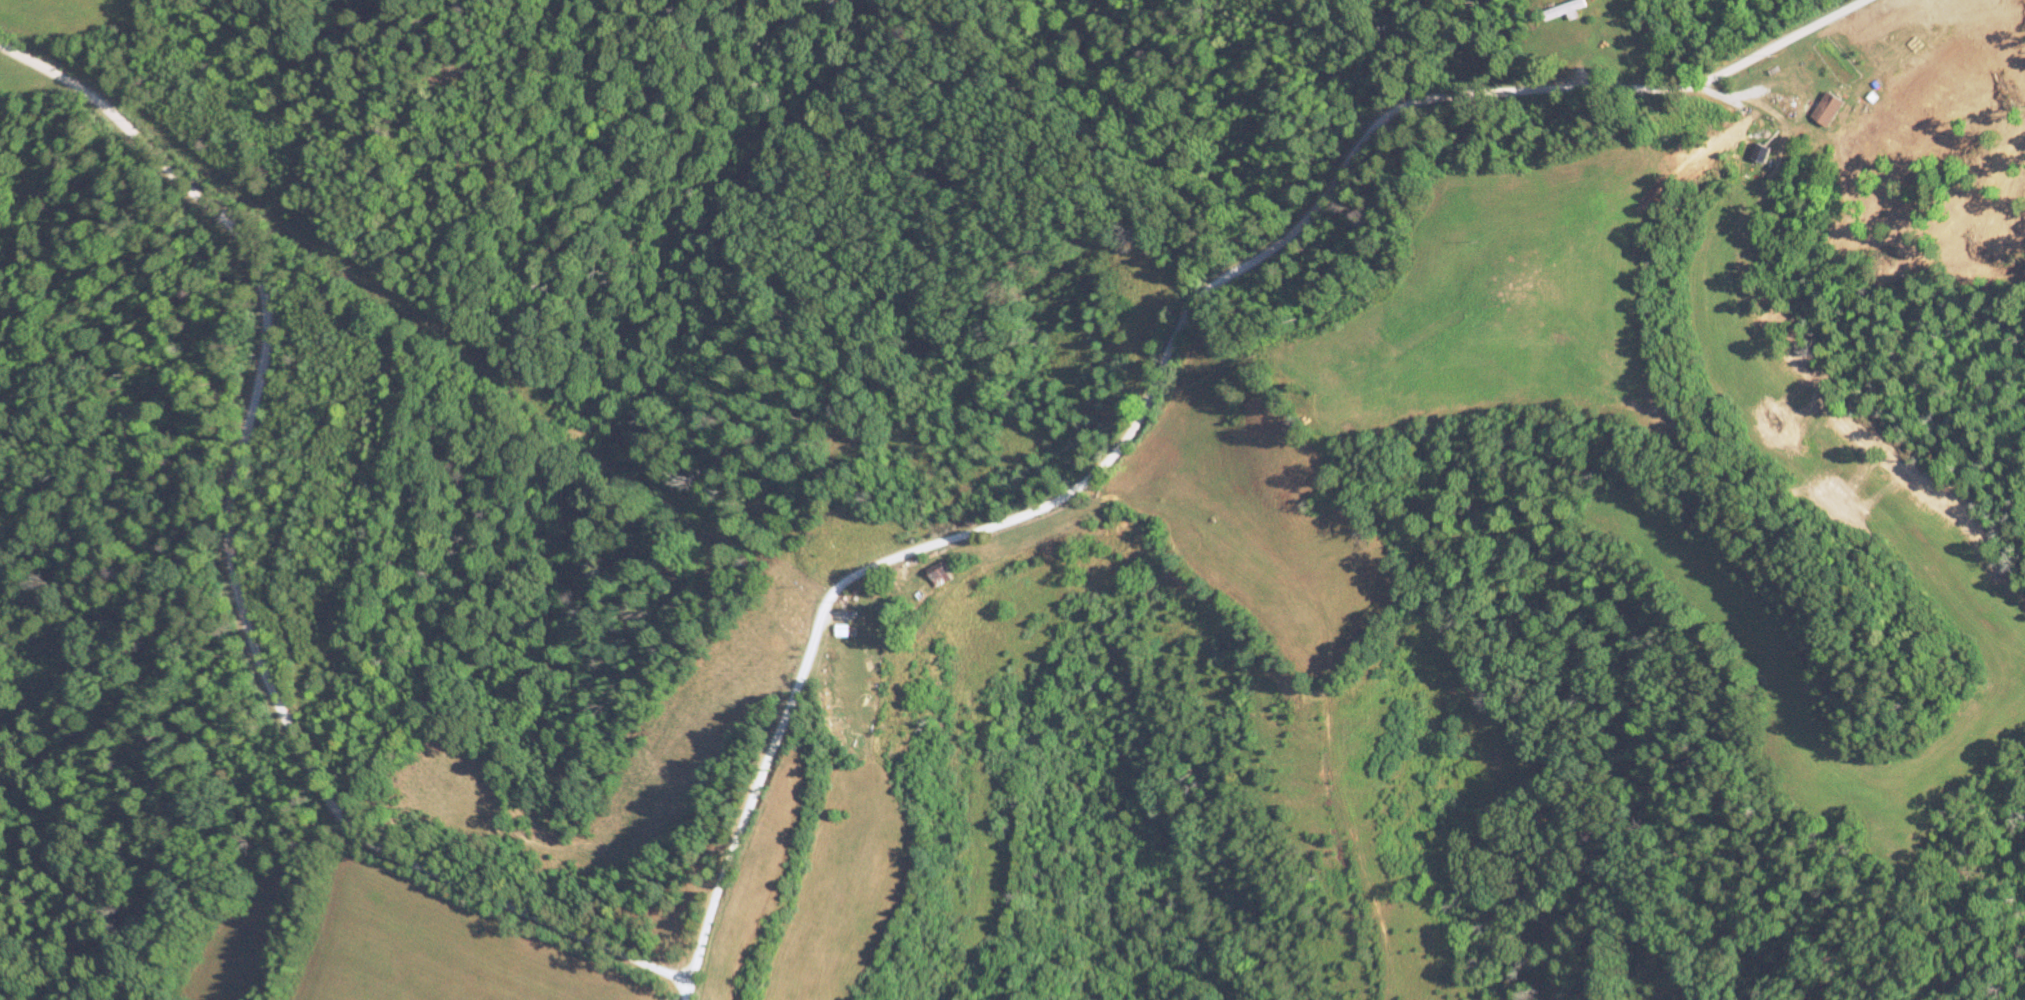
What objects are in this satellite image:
building: (1572, 7)
building: (1825, 109)
road: (1163, 364)
road: (232, 569)
road: (685, 990)

